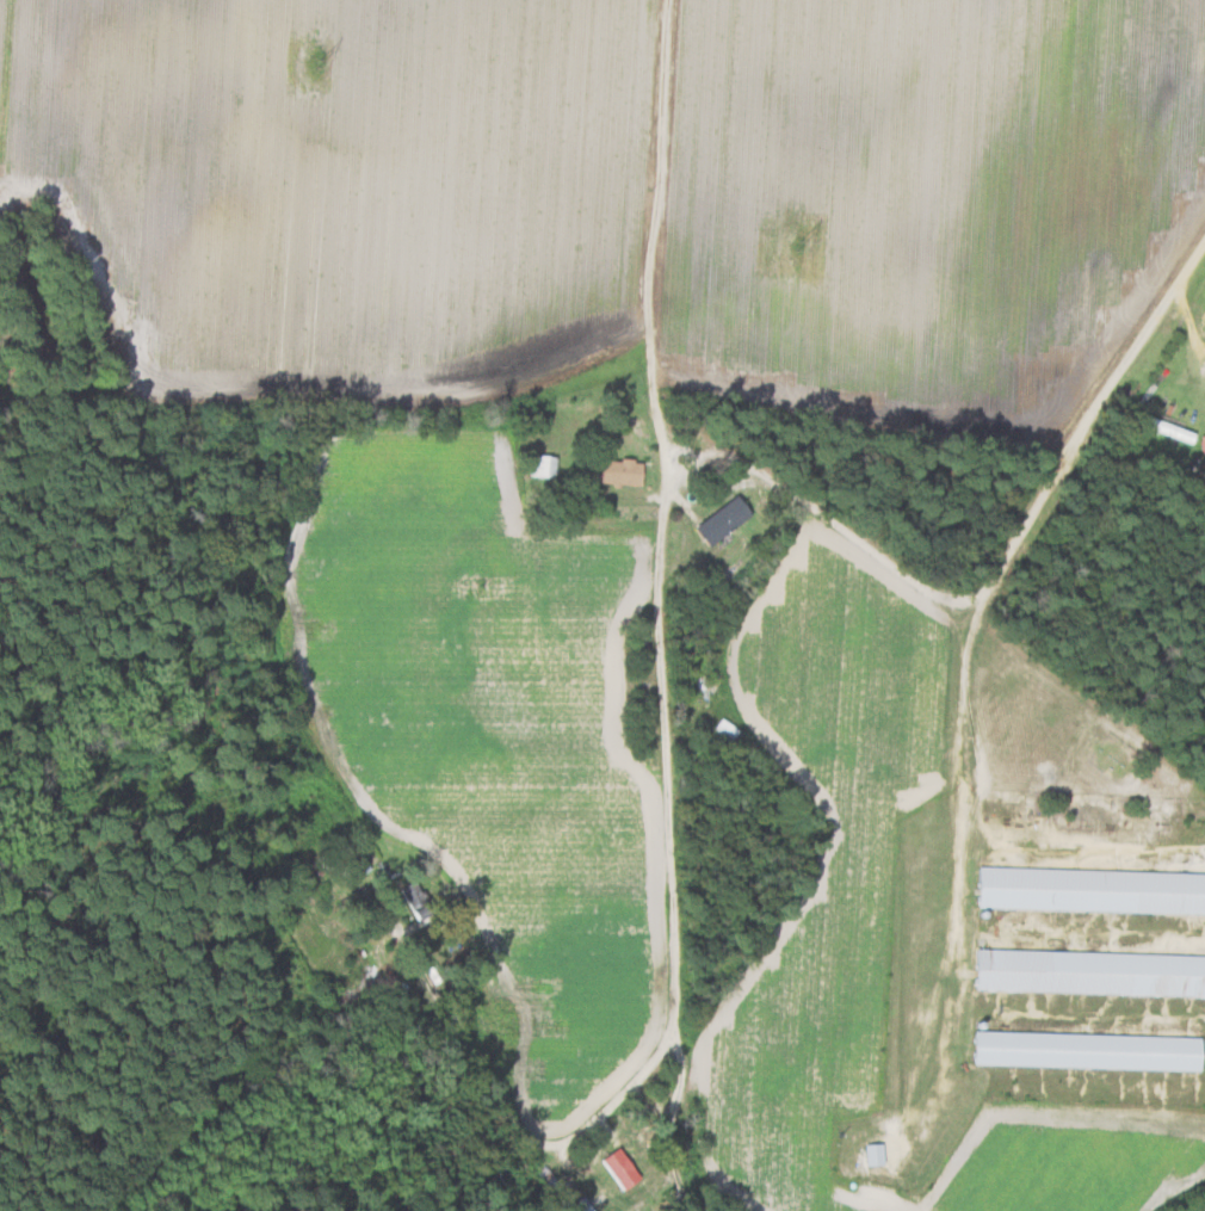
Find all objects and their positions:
power tower: (319, 63)
power tower: (798, 242)
road: (534, 378)
road: (1083, 427)
building: (628, 470)
building: (727, 518)
road: (657, 599)
building: (351, 859)
road: (958, 876)
building: (1092, 888)
building: (414, 904)
building: (1089, 969)
building: (387, 989)
building: (1084, 1048)
road: (555, 1142)
building: (872, 1150)
building: (616, 1169)
building: (543, 1178)
building: (579, 1205)

